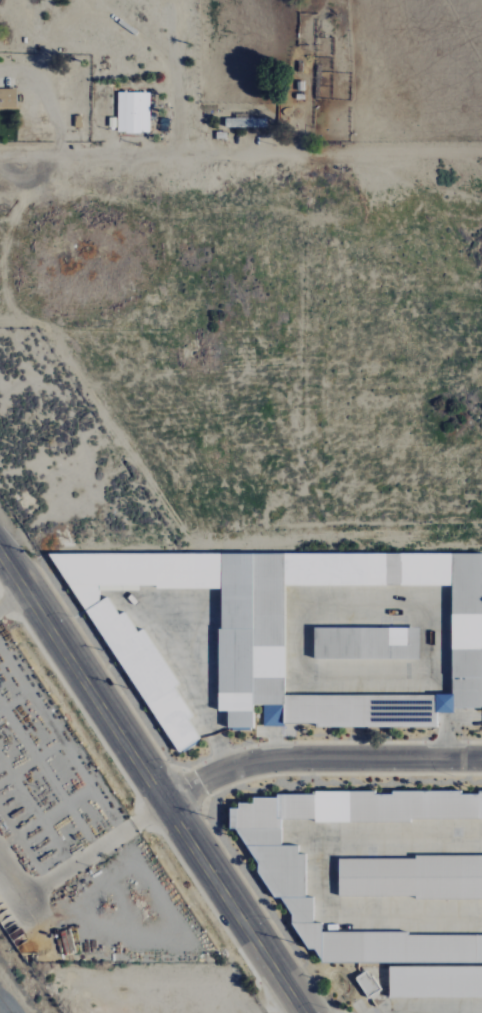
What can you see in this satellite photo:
road: (47, 25)
road: (39, 64)
road: (41, 92)
building: (8, 99)
building: (133, 113)
road: (151, 152)
road: (34, 153)
road: (12, 597)
building: (306, 635)
road: (61, 738)
road: (320, 759)
road: (153, 781)
road: (81, 859)
building: (284, 875)
building: (410, 877)
building: (436, 981)
building: (367, 984)

